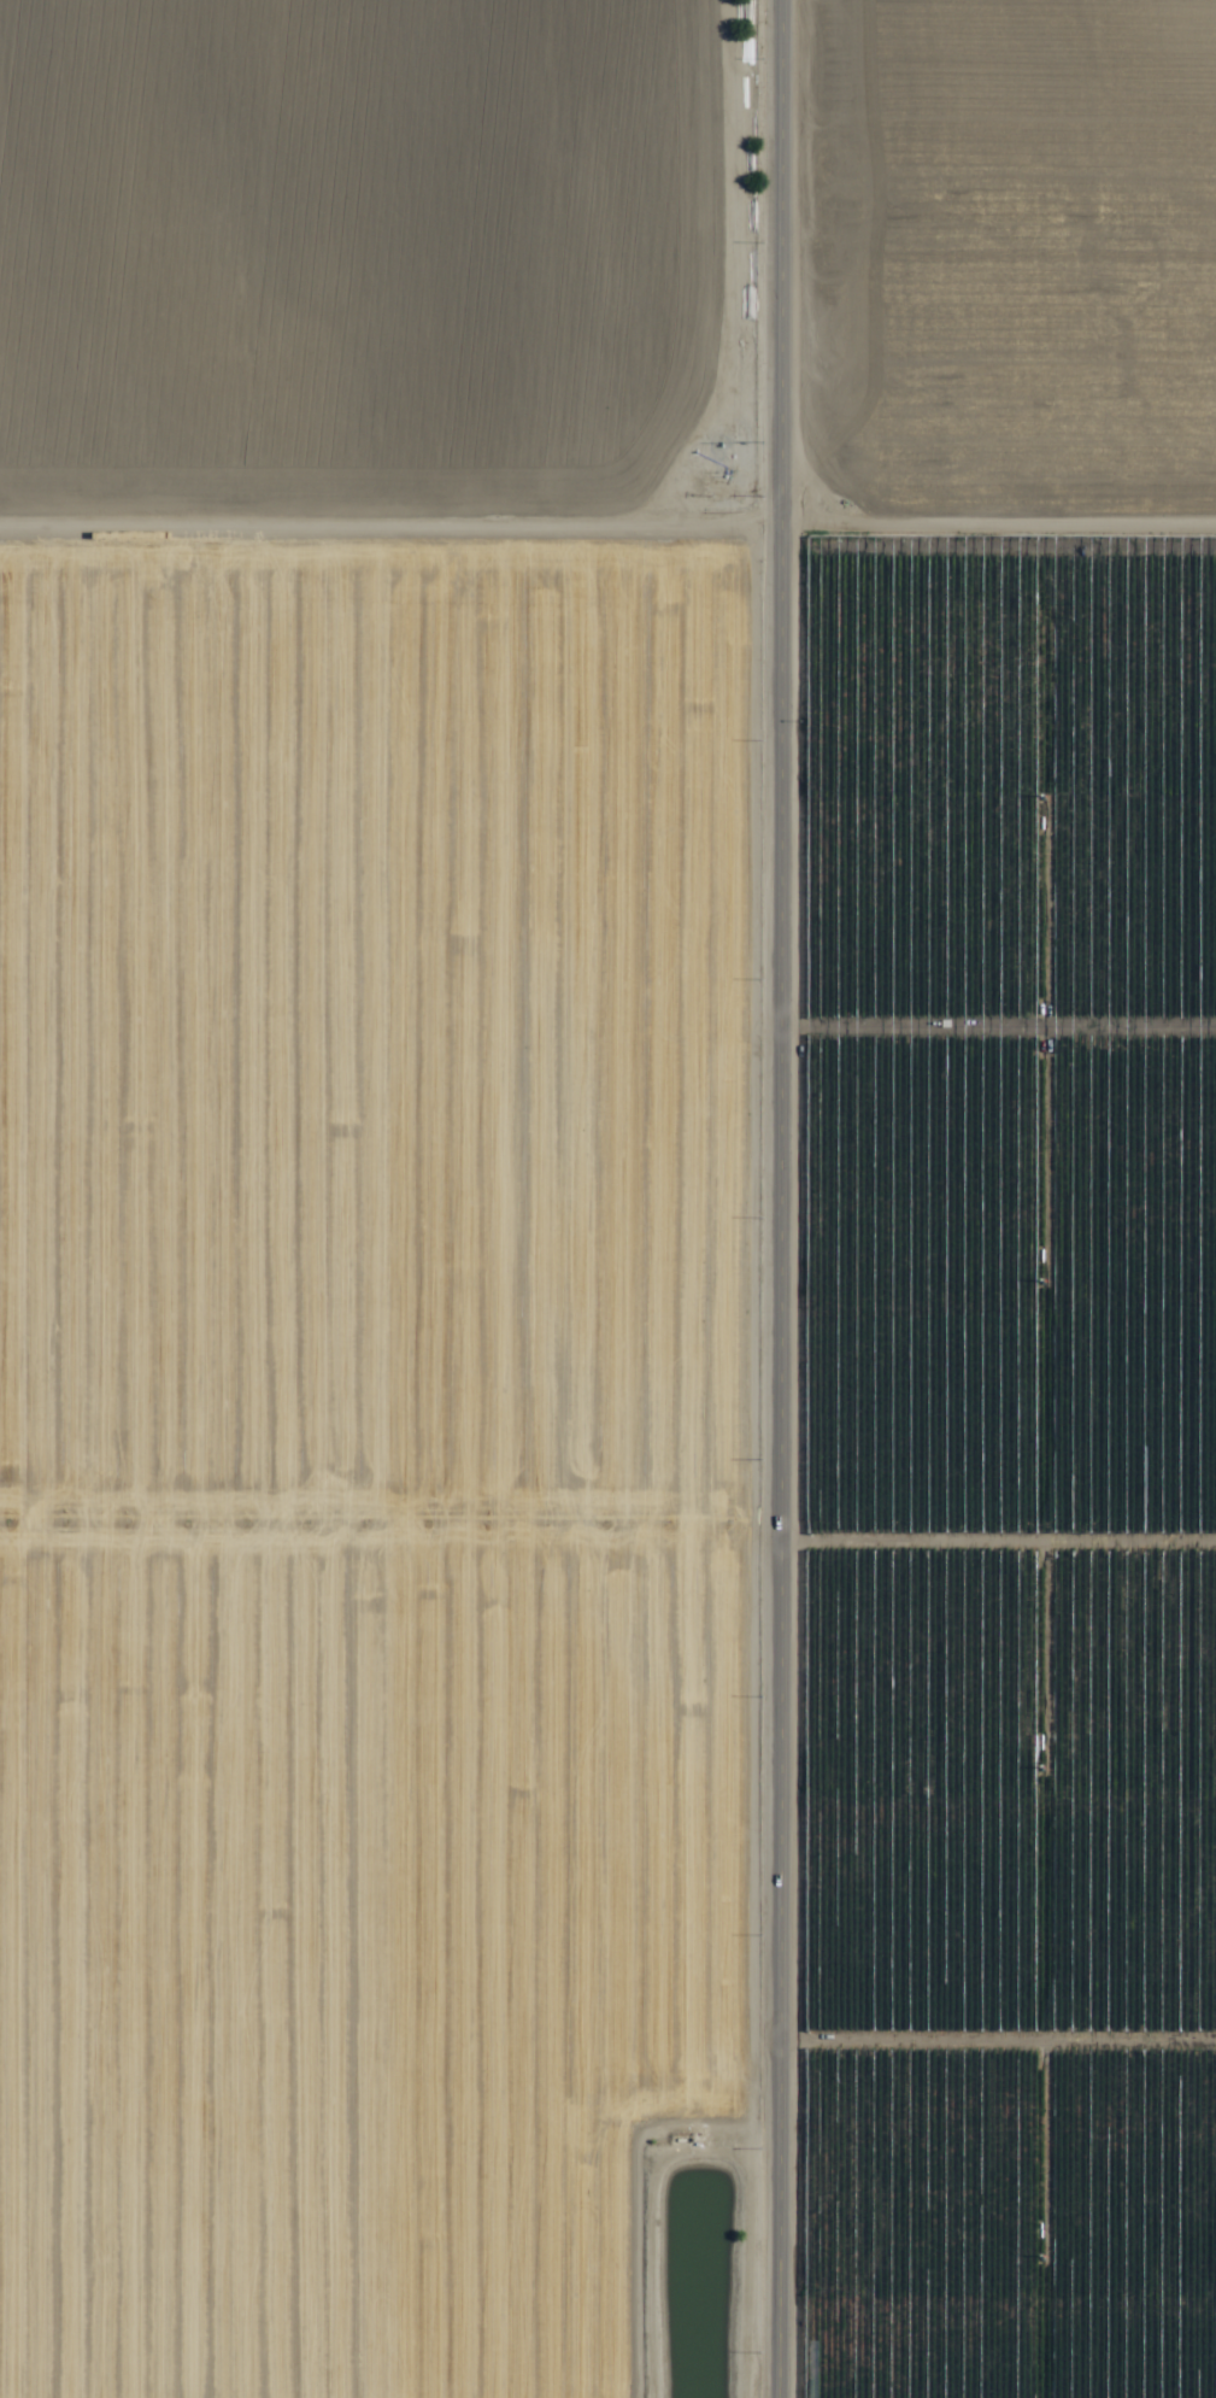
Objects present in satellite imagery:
building: (606, 476)
road: (394, 512)
crop: (607, 1198)
road: (787, 1198)
wastewater plant: (697, 2244)

